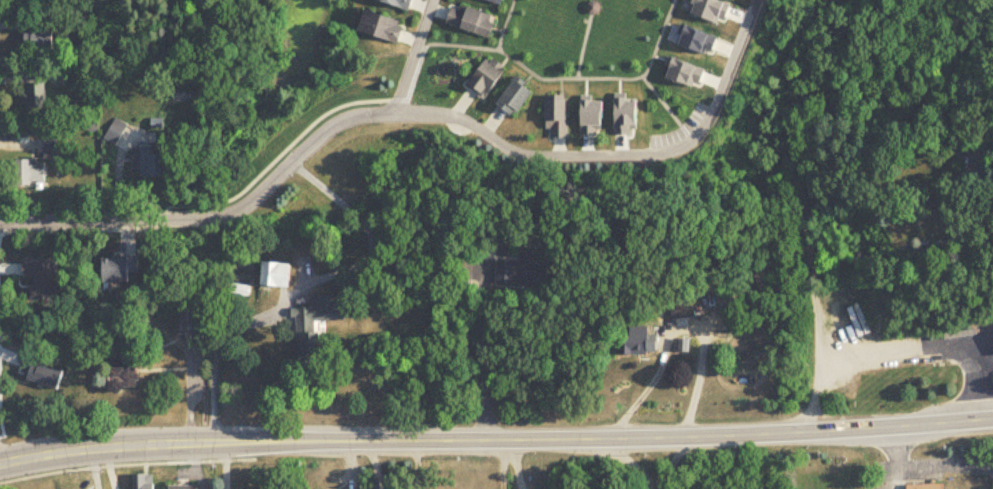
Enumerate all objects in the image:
building: (492, 0)
building: (395, 2)
building: (465, 18)
building: (375, 25)
building: (33, 38)
building: (480, 75)
building: (32, 94)
building: (510, 95)
building: (551, 113)
building: (111, 130)
building: (47, 147)
road: (300, 154)
road: (557, 155)
building: (146, 159)
building: (25, 171)
road: (804, 177)
building: (918, 210)
road: (110, 218)
building: (517, 272)
building: (270, 273)
road: (296, 286)
building: (678, 308)
building: (854, 320)
building: (311, 322)
road: (678, 328)
building: (631, 339)
building: (680, 344)
road: (905, 348)
road: (478, 354)
building: (118, 371)
road: (978, 391)
road: (496, 441)
road: (891, 447)
road: (628, 462)
road: (508, 465)
road: (942, 466)
road: (890, 477)
building: (139, 481)
building: (921, 485)
building: (177, 486)

